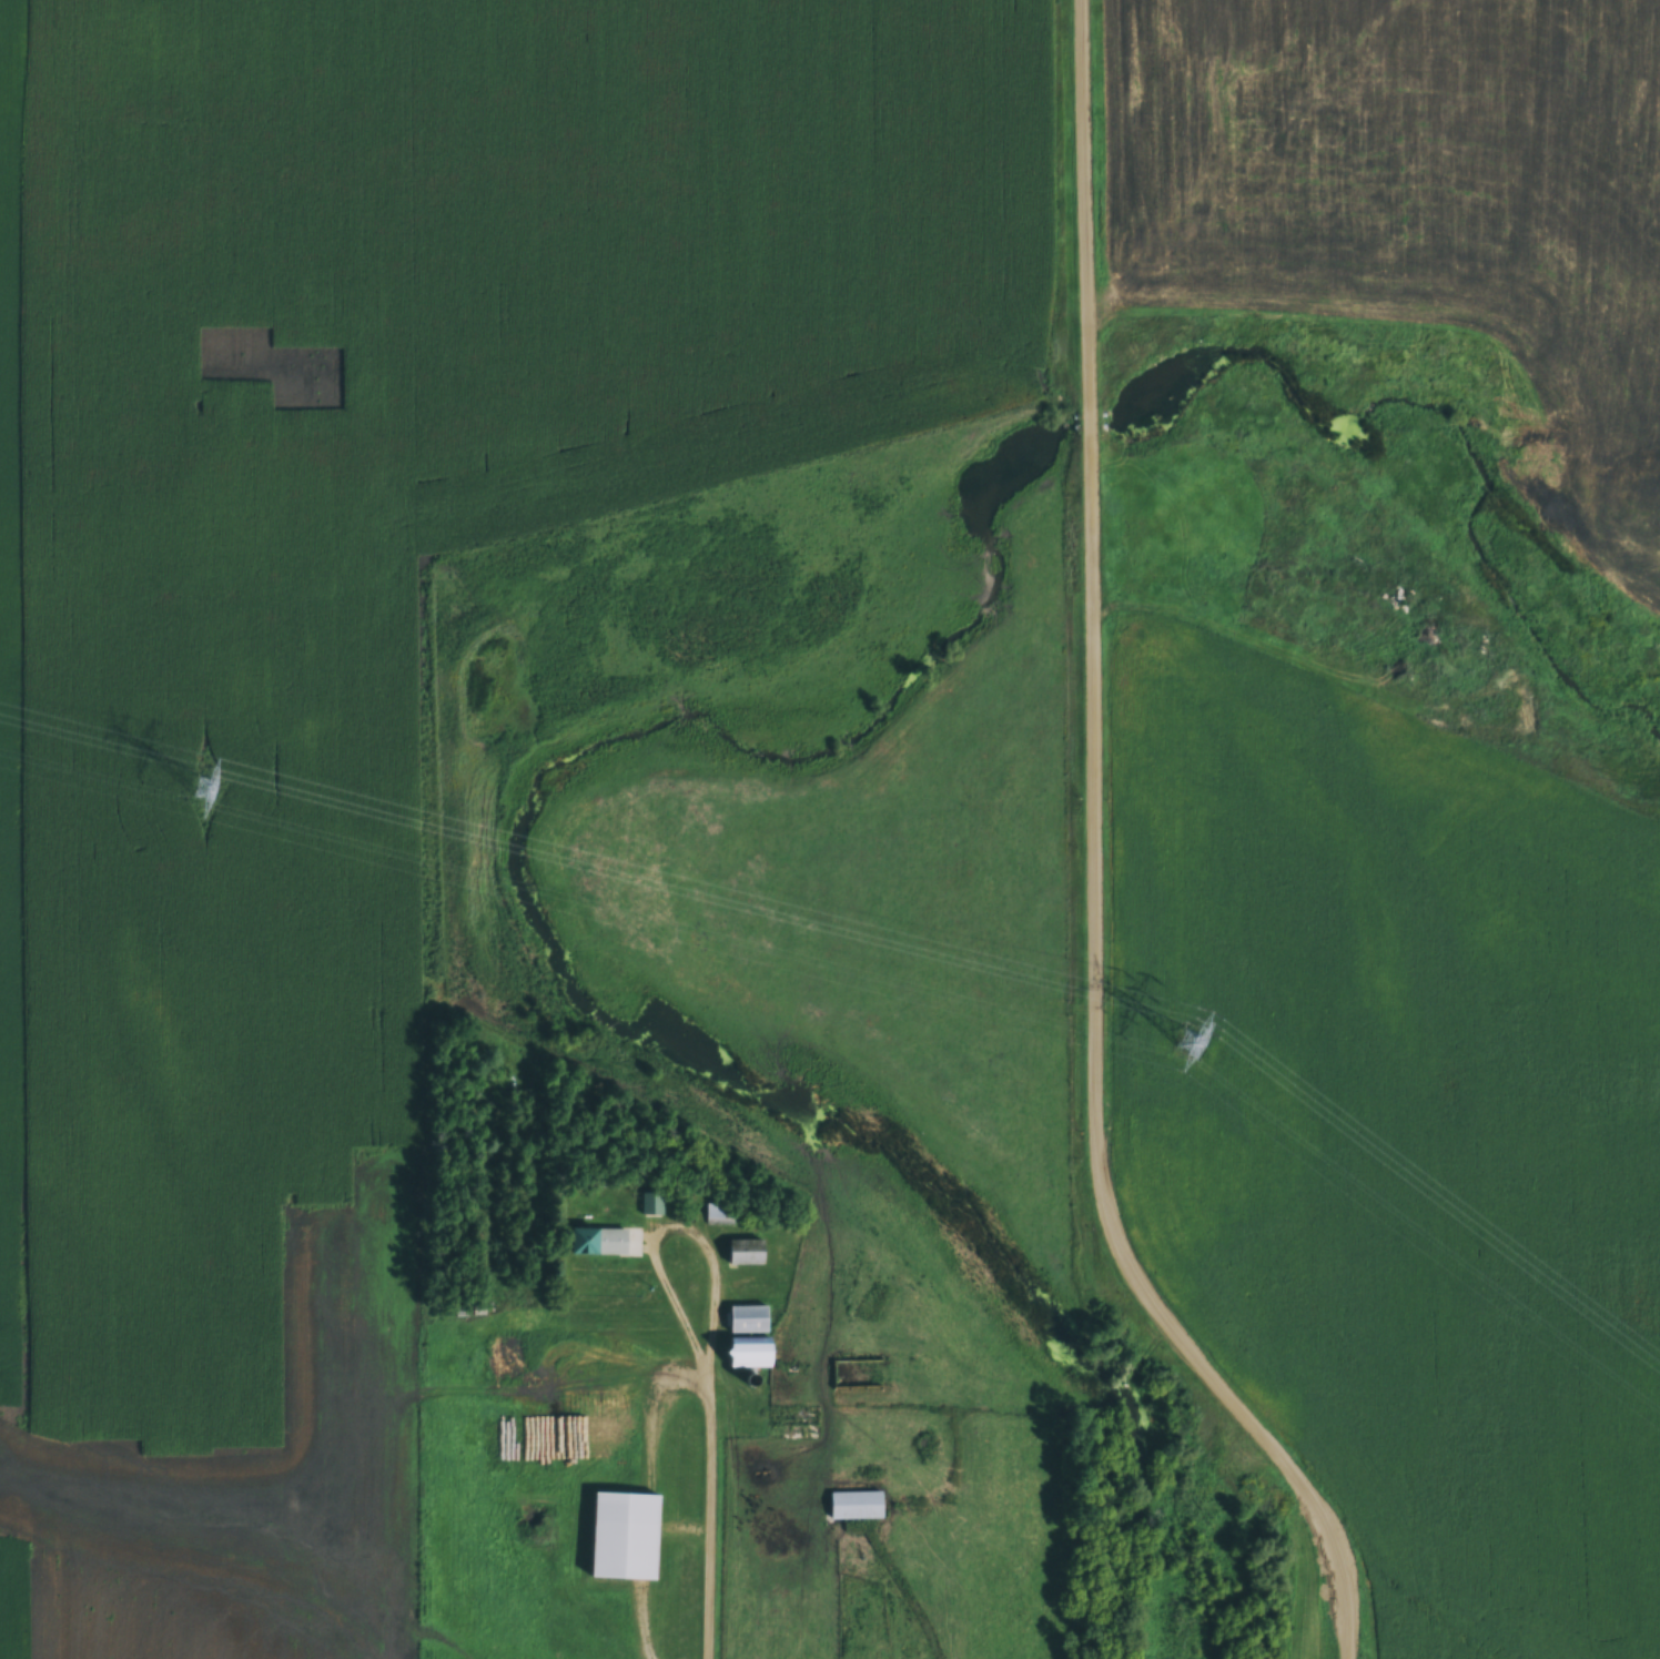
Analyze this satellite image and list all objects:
power tower: (206, 790)
road: (1100, 868)
power tower: (1187, 1040)
building: (651, 1205)
building: (719, 1215)
building: (604, 1243)
building: (745, 1254)
building: (748, 1321)
building: (793, 1419)
building: (514, 1463)
building: (856, 1507)
building: (624, 1538)

